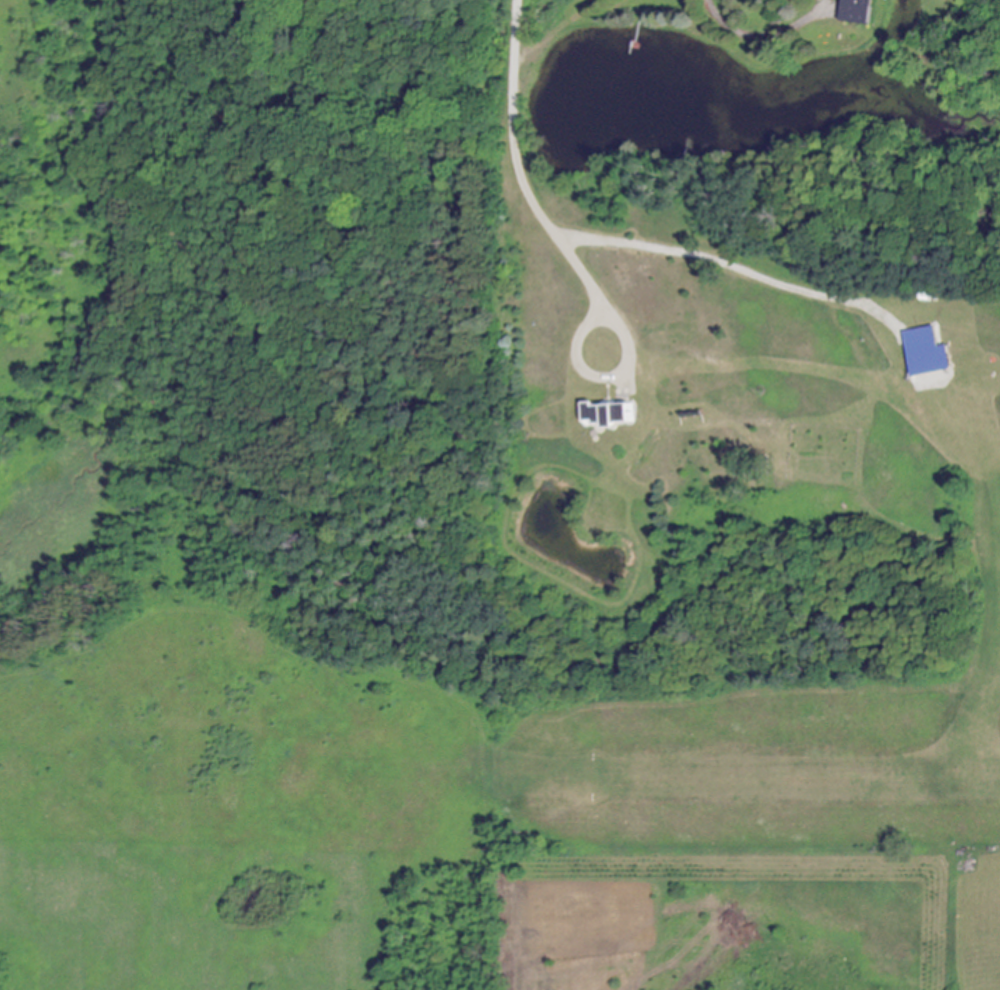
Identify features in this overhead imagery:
building: (864, 12)
road: (561, 30)
road: (767, 35)
road: (520, 165)
building: (930, 353)
road: (602, 377)
building: (614, 415)

